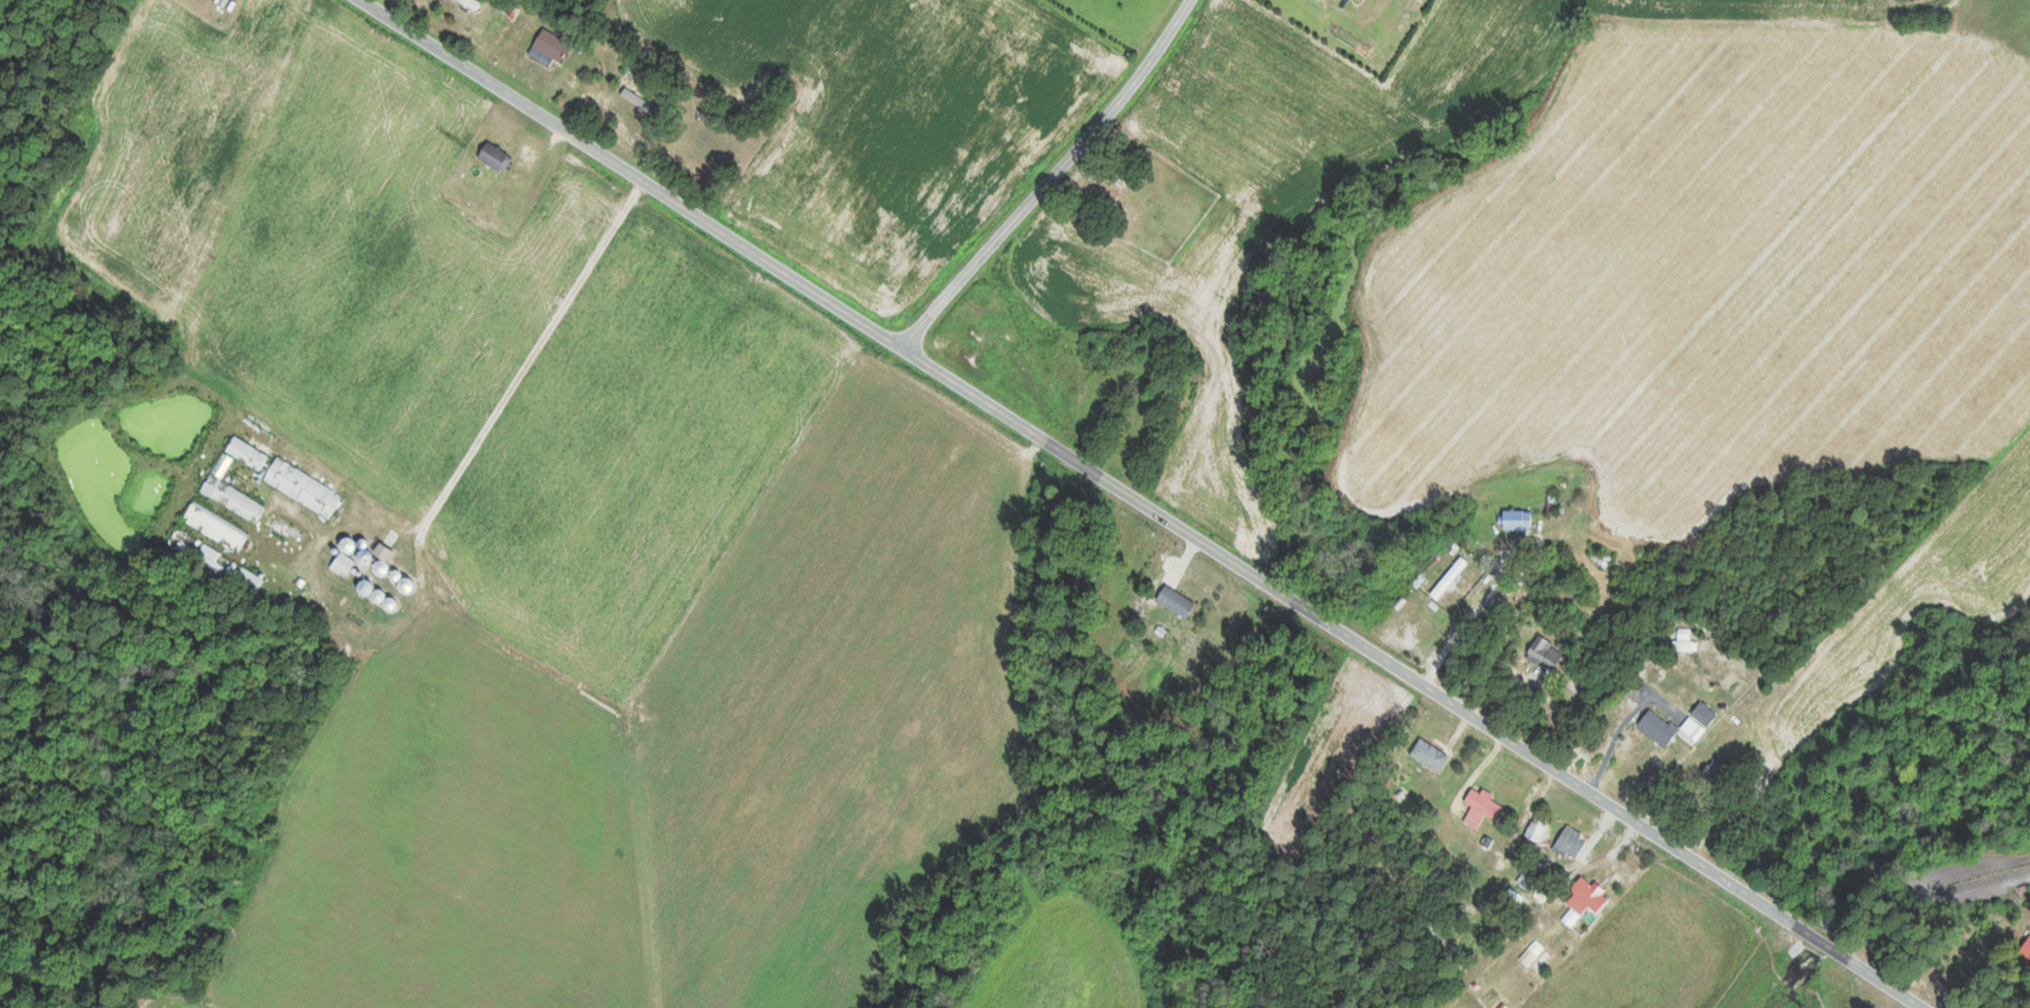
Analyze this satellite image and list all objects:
building: (1363, 2)
building: (471, 4)
building: (550, 47)
building: (496, 156)
road: (1051, 177)
road: (470, 319)
building: (1165, 395)
building: (247, 453)
building: (222, 465)
building: (303, 487)
building: (233, 498)
road: (1148, 503)
building: (1553, 505)
building: (1518, 519)
building: (216, 526)
building: (382, 560)
building: (215, 562)
building: (343, 564)
building: (1449, 578)
building: (407, 585)
building: (1177, 601)
building: (1685, 645)
building: (1546, 653)
building: (1654, 720)
building: (1430, 755)
building: (1719, 769)
road: (1257, 775)
building: (1482, 807)
building: (1537, 830)
building: (1572, 842)
road: (1498, 892)
building: (1587, 896)
building: (1532, 952)
building: (2026, 953)
road: (1237, 954)

